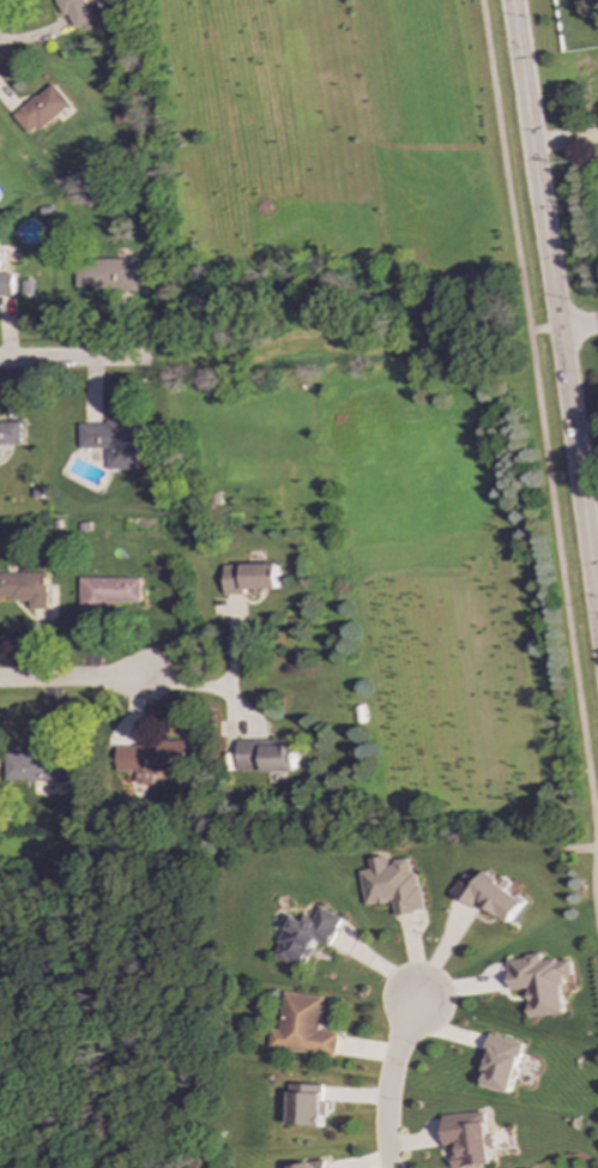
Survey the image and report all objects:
building: (75, 12)
building: (41, 109)
building: (102, 273)
building: (5, 284)
road: (555, 302)
road: (579, 325)
road: (544, 330)
road: (72, 360)
building: (10, 433)
building: (109, 441)
road: (546, 469)
building: (248, 577)
road: (597, 586)
building: (25, 588)
building: (107, 592)
road: (68, 679)
road: (200, 686)
building: (265, 755)
building: (147, 760)
building: (36, 769)
road: (596, 854)
building: (394, 885)
building: (493, 896)
building: (307, 935)
building: (542, 983)
building: (303, 1026)
building: (502, 1062)
road: (383, 1077)
building: (307, 1104)
building: (469, 1139)
building: (310, 1164)

